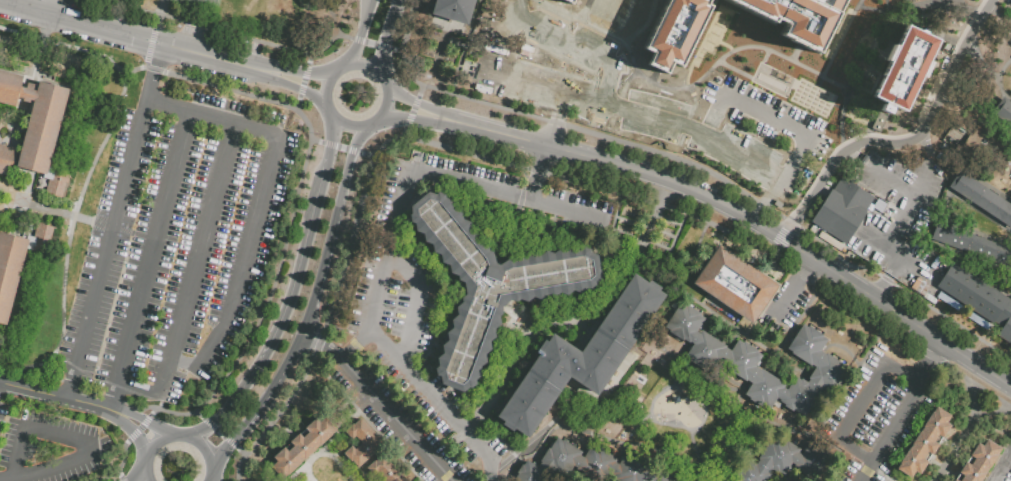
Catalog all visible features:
building: (569, 0)
building: (901, 0)
park: (200, 4)
road: (46, 5)
building: (454, 8)
road: (583, 9)
road: (392, 10)
road: (999, 13)
road: (482, 15)
building: (796, 17)
road: (616, 19)
road: (622, 19)
road: (643, 25)
road: (467, 32)
road: (503, 32)
road: (360, 33)
road: (154, 34)
building: (673, 34)
road: (138, 35)
road: (239, 36)
road: (344, 36)
road: (840, 37)
road: (359, 40)
road: (49, 41)
road: (370, 43)
road: (382, 45)
road: (382, 48)
road: (394, 49)
road: (310, 59)
parking lot: (546, 60)
road: (1008, 60)
building: (907, 63)
road: (365, 64)
building: (487, 66)
road: (690, 66)
road: (710, 70)
road: (301, 71)
road: (307, 71)
road: (127, 72)
road: (304, 81)
building: (531, 81)
road: (299, 86)
building: (8, 87)
road: (325, 87)
road: (301, 89)
road: (420, 91)
building: (24, 92)
road: (457, 93)
road: (1003, 93)
road: (991, 96)
road: (298, 101)
road: (415, 102)
road: (965, 102)
road: (386, 103)
road: (418, 104)
road: (413, 110)
building: (1005, 111)
building: (644, 112)
road: (690, 114)
road: (408, 118)
road: (414, 118)
road: (348, 125)
building: (690, 127)
parking lot: (737, 131)
road: (404, 133)
road: (589, 133)
building: (38, 138)
road: (317, 141)
road: (902, 141)
building: (742, 143)
road: (331, 145)
road: (341, 148)
road: (351, 150)
building: (707, 153)
road: (368, 154)
road: (487, 159)
road: (751, 162)
road: (537, 170)
road: (877, 171)
road: (538, 174)
road: (948, 186)
road: (258, 202)
building: (984, 202)
road: (943, 208)
road: (362, 210)
building: (842, 210)
road: (60, 212)
road: (747, 217)
road: (115, 220)
road: (71, 222)
road: (294, 224)
road: (333, 225)
road: (111, 226)
road: (934, 228)
road: (978, 232)
road: (810, 233)
parking lot: (175, 240)
road: (1010, 242)
building: (971, 244)
road: (386, 248)
road: (770, 252)
road: (893, 253)
building: (17, 258)
road: (196, 259)
road: (149, 262)
road: (808, 265)
road: (966, 265)
road: (896, 267)
road: (997, 269)
road: (685, 271)
road: (295, 279)
building: (494, 283)
building: (733, 284)
road: (883, 287)
road: (1006, 291)
road: (790, 293)
building: (978, 298)
road: (415, 302)
parking lot: (785, 308)
road: (109, 311)
parking lot: (428, 318)
road: (578, 318)
road: (740, 331)
road: (316, 342)
road: (355, 345)
building: (574, 358)
building: (730, 359)
road: (48, 375)
road: (68, 383)
road: (138, 388)
road: (33, 390)
road: (88, 390)
road: (990, 393)
road: (159, 397)
road: (110, 398)
road: (262, 402)
road: (380, 402)
road: (159, 404)
road: (1009, 404)
road: (860, 405)
road: (94, 406)
road: (980, 409)
road: (151, 411)
road: (902, 413)
road: (200, 414)
parking lot: (876, 415)
road: (145, 420)
road: (148, 422)
road: (280, 423)
road: (211, 424)
road: (141, 426)
road: (543, 429)
road: (199, 430)
road: (221, 432)
road: (135, 433)
road: (132, 435)
road: (296, 437)
road: (159, 440)
road: (230, 440)
road: (74, 442)
building: (360, 442)
building: (924, 442)
building: (301, 445)
road: (957, 445)
parking lot: (49, 446)
road: (205, 448)
road: (240, 449)
road: (335, 459)
building: (785, 461)
building: (978, 461)
road: (306, 463)
building: (592, 465)
road: (1002, 467)
road: (118, 468)
parking lot: (1002, 468)
building: (384, 469)
road: (137, 473)
road: (145, 473)
road: (119, 474)
road: (211, 474)
road: (883, 474)
road: (5, 476)
road: (309, 478)
road: (122, 479)
road: (209, 479)
road: (210, 479)
building: (713, 479)
parking lot: (779, 480)
building: (954, 480)

